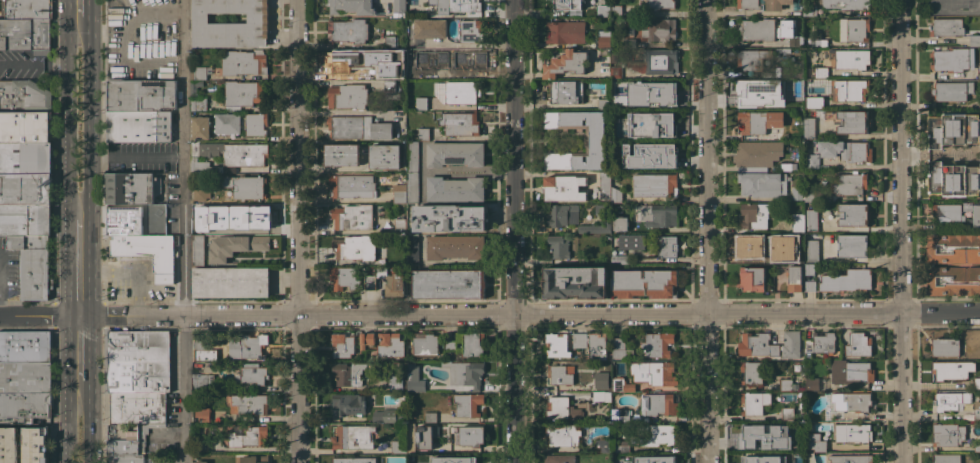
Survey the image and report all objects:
building: (565, 4)
building: (659, 4)
building: (749, 4)
building: (776, 4)
building: (847, 4)
building: (464, 5)
building: (352, 6)
building: (398, 7)
building: (437, 7)
building: (26, 9)
building: (809, 9)
building: (614, 10)
building: (603, 11)
road: (80, 12)
building: (230, 23)
building: (946, 27)
building: (430, 28)
building: (660, 29)
building: (758, 29)
building: (786, 29)
building: (348, 30)
building: (854, 30)
building: (471, 31)
building: (566, 32)
building: (24, 34)
building: (604, 38)
building: (974, 40)
building: (390, 41)
building: (630, 41)
building: (817, 42)
road: (472, 44)
building: (783, 49)
building: (364, 57)
building: (614, 57)
building: (752, 59)
building: (852, 59)
building: (952, 59)
building: (660, 61)
building: (243, 62)
building: (340, 62)
building: (459, 62)
road: (34, 63)
building: (565, 63)
building: (389, 68)
building: (790, 70)
building: (616, 71)
building: (978, 71)
building: (199, 72)
building: (412, 72)
building: (821, 72)
building: (195, 84)
building: (389, 85)
building: (851, 89)
building: (951, 90)
building: (438, 91)
building: (566, 91)
building: (759, 91)
building: (461, 92)
building: (243, 93)
building: (650, 93)
building: (139, 95)
building: (24, 96)
building: (348, 96)
building: (796, 101)
building: (814, 101)
building: (421, 102)
building: (199, 103)
building: (603, 103)
road: (90, 117)
road: (68, 118)
building: (760, 121)
building: (849, 121)
building: (227, 123)
building: (256, 123)
building: (459, 123)
building: (649, 124)
building: (138, 125)
building: (25, 126)
building: (200, 127)
building: (358, 127)
building: (809, 128)
building: (423, 133)
building: (596, 139)
building: (846, 150)
building: (455, 153)
building: (978, 153)
building: (341, 154)
building: (757, 154)
building: (228, 155)
building: (649, 155)
building: (385, 156)
building: (412, 156)
building: (25, 157)
road: (136, 160)
building: (812, 161)
building: (785, 166)
road: (339, 168)
building: (762, 183)
building: (655, 184)
building: (849, 184)
building: (352, 185)
building: (604, 185)
building: (245, 186)
building: (132, 187)
building: (412, 187)
building: (564, 187)
building: (25, 188)
building: (455, 188)
building: (615, 191)
building: (200, 193)
building: (399, 193)
building: (797, 193)
building: (809, 195)
building: (967, 206)
building: (199, 210)
building: (602, 210)
building: (947, 212)
building: (560, 214)
building: (756, 214)
building: (854, 214)
building: (659, 215)
building: (353, 217)
building: (451, 217)
building: (974, 218)
building: (25, 219)
building: (244, 219)
building: (124, 220)
building: (812, 220)
building: (798, 222)
building: (620, 223)
building: (400, 225)
building: (594, 228)
road: (182, 231)
road: (299, 231)
road: (516, 231)
road: (711, 231)
road: (903, 231)
building: (631, 241)
road: (80, 243)
building: (235, 245)
building: (761, 245)
building: (853, 245)
building: (456, 246)
building: (558, 246)
building: (667, 246)
building: (355, 247)
building: (812, 247)
building: (953, 248)
building: (413, 249)
building: (198, 250)
building: (149, 252)
building: (797, 256)
building: (621, 258)
building: (32, 265)
building: (809, 269)
road: (124, 275)
building: (344, 277)
building: (753, 278)
building: (795, 278)
building: (396, 280)
building: (847, 280)
building: (953, 280)
building: (230, 281)
building: (576, 282)
building: (449, 283)
building: (644, 283)
building: (810, 285)
road: (79, 292)
road: (39, 313)
road: (108, 313)
road: (559, 314)
building: (579, 340)
building: (821, 342)
building: (383, 343)
building: (425, 343)
building: (791, 343)
building: (343, 344)
building: (467, 344)
building: (657, 344)
building: (757, 344)
building: (858, 344)
building: (247, 345)
building: (557, 345)
building: (597, 345)
building: (25, 346)
building: (945, 346)
building: (620, 348)
building: (203, 349)
road: (79, 352)
building: (137, 361)
building: (248, 364)
building: (954, 370)
building: (653, 372)
building: (752, 372)
building: (851, 372)
building: (347, 373)
building: (465, 373)
building: (561, 374)
building: (252, 375)
building: (25, 377)
building: (415, 379)
building: (202, 382)
building: (620, 382)
building: (398, 383)
building: (599, 383)
building: (788, 383)
building: (815, 383)
building: (600, 396)
building: (950, 401)
building: (249, 403)
building: (349, 403)
building: (752, 403)
building: (852, 403)
building: (467, 404)
building: (658, 404)
building: (25, 406)
building: (564, 406)
building: (138, 407)
building: (977, 410)
building: (787, 413)
building: (387, 415)
building: (623, 415)
building: (430, 417)
building: (202, 418)
road: (66, 425)
road: (90, 426)
building: (857, 432)
building: (948, 434)
building: (471, 435)
building: (660, 435)
building: (763, 435)
building: (247, 436)
building: (353, 436)
building: (424, 437)
building: (564, 438)
building: (129, 439)
building: (816, 442)
building: (35, 444)
building: (203, 444)
building: (8, 445)
building: (602, 445)
building: (399, 446)
building: (977, 447)
building: (617, 448)
building: (133, 458)
building: (560, 458)
building: (752, 458)
building: (851, 458)
building: (947, 458)
building: (255, 459)
building: (349, 459)
building: (451, 459)
building: (657, 459)
building: (200, 462)

